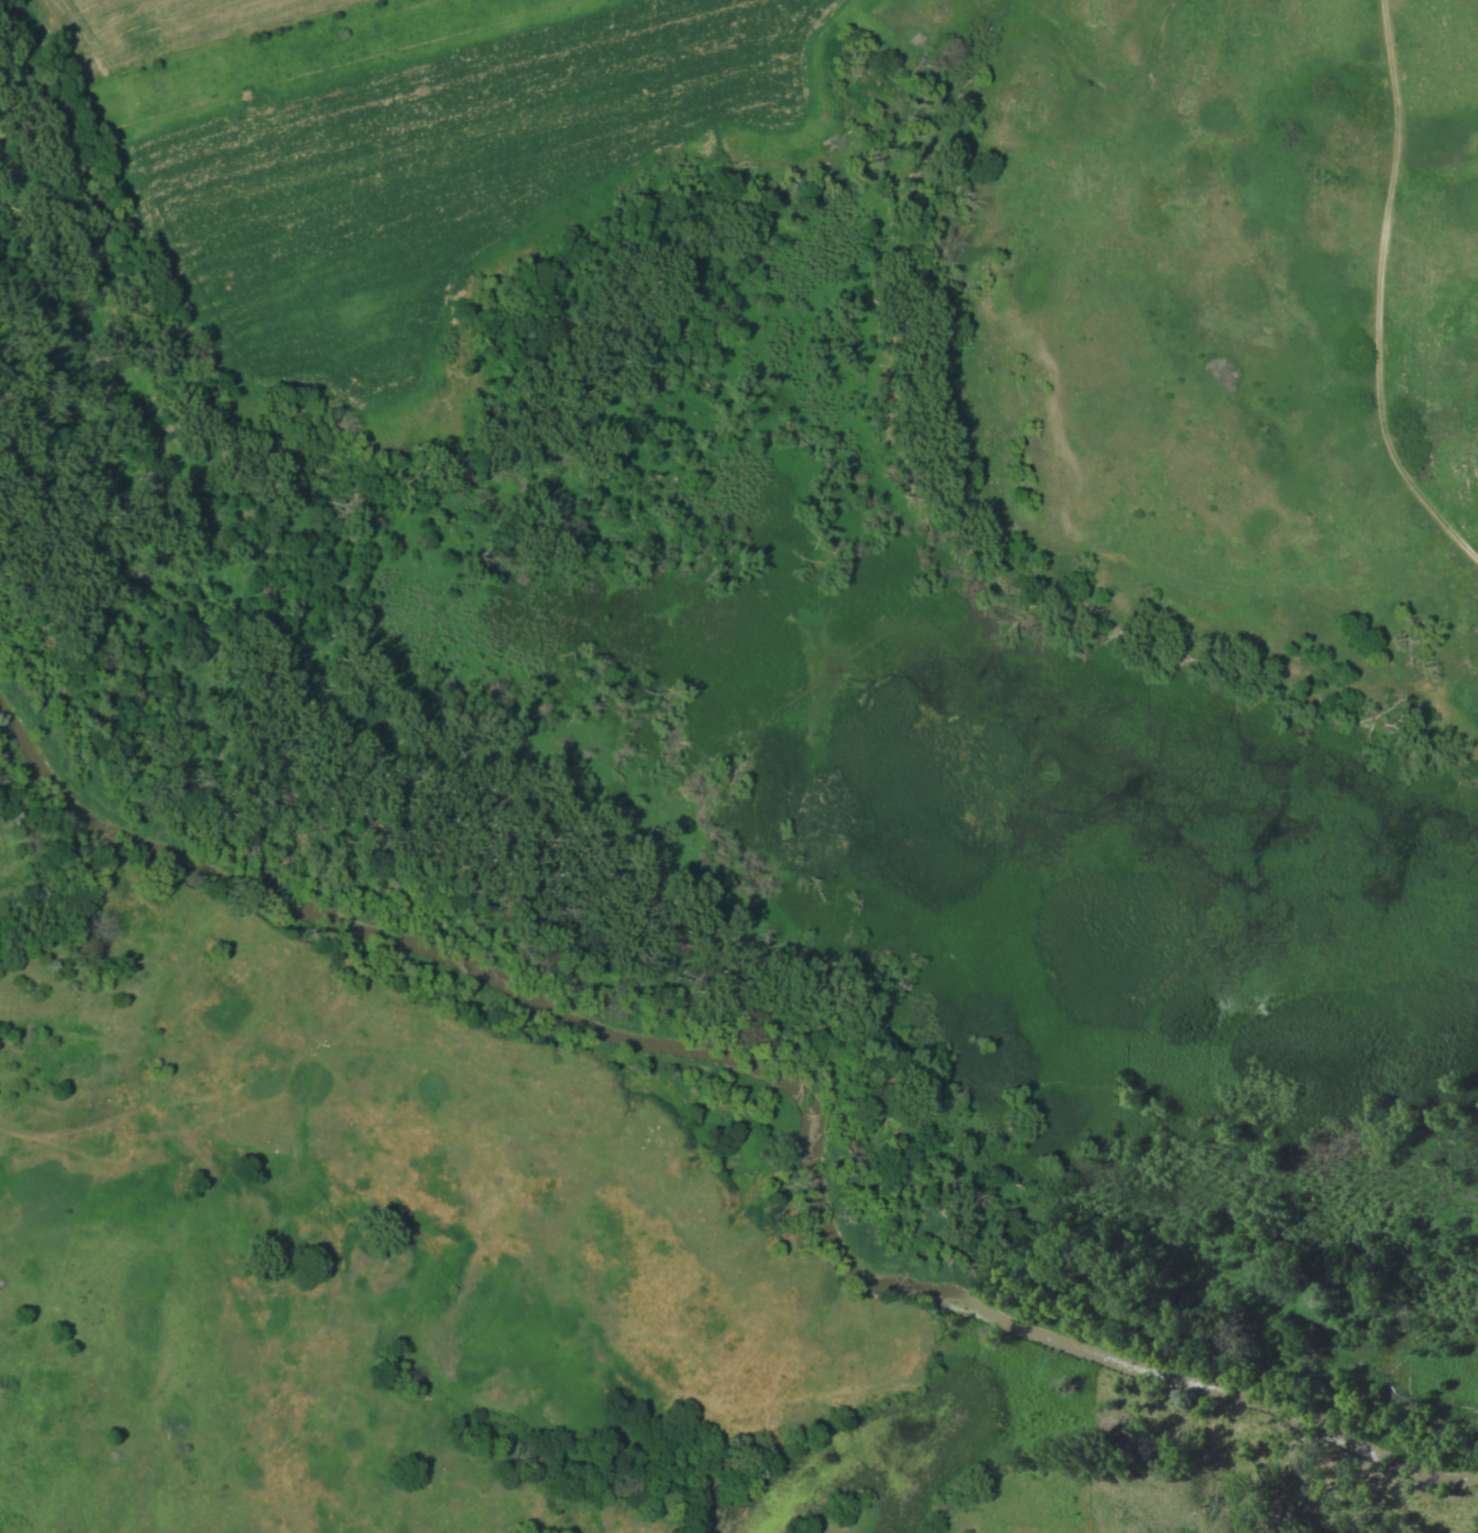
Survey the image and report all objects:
crop: (167, 29)
crop: (430, 177)
road: (1383, 297)
park: (739, 766)

